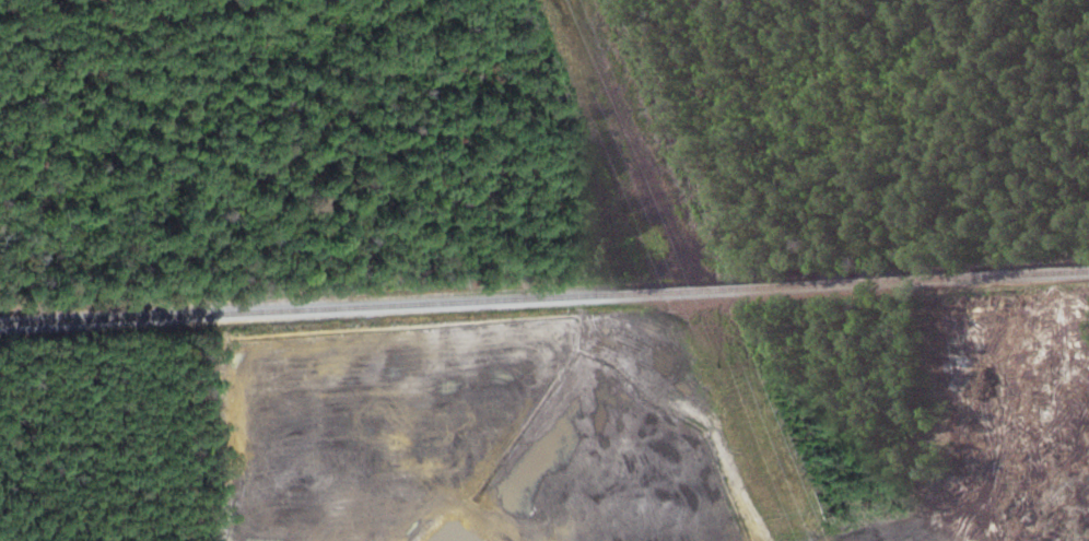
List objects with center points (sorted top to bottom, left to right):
railway: (544, 298)
power tower: (730, 364)

